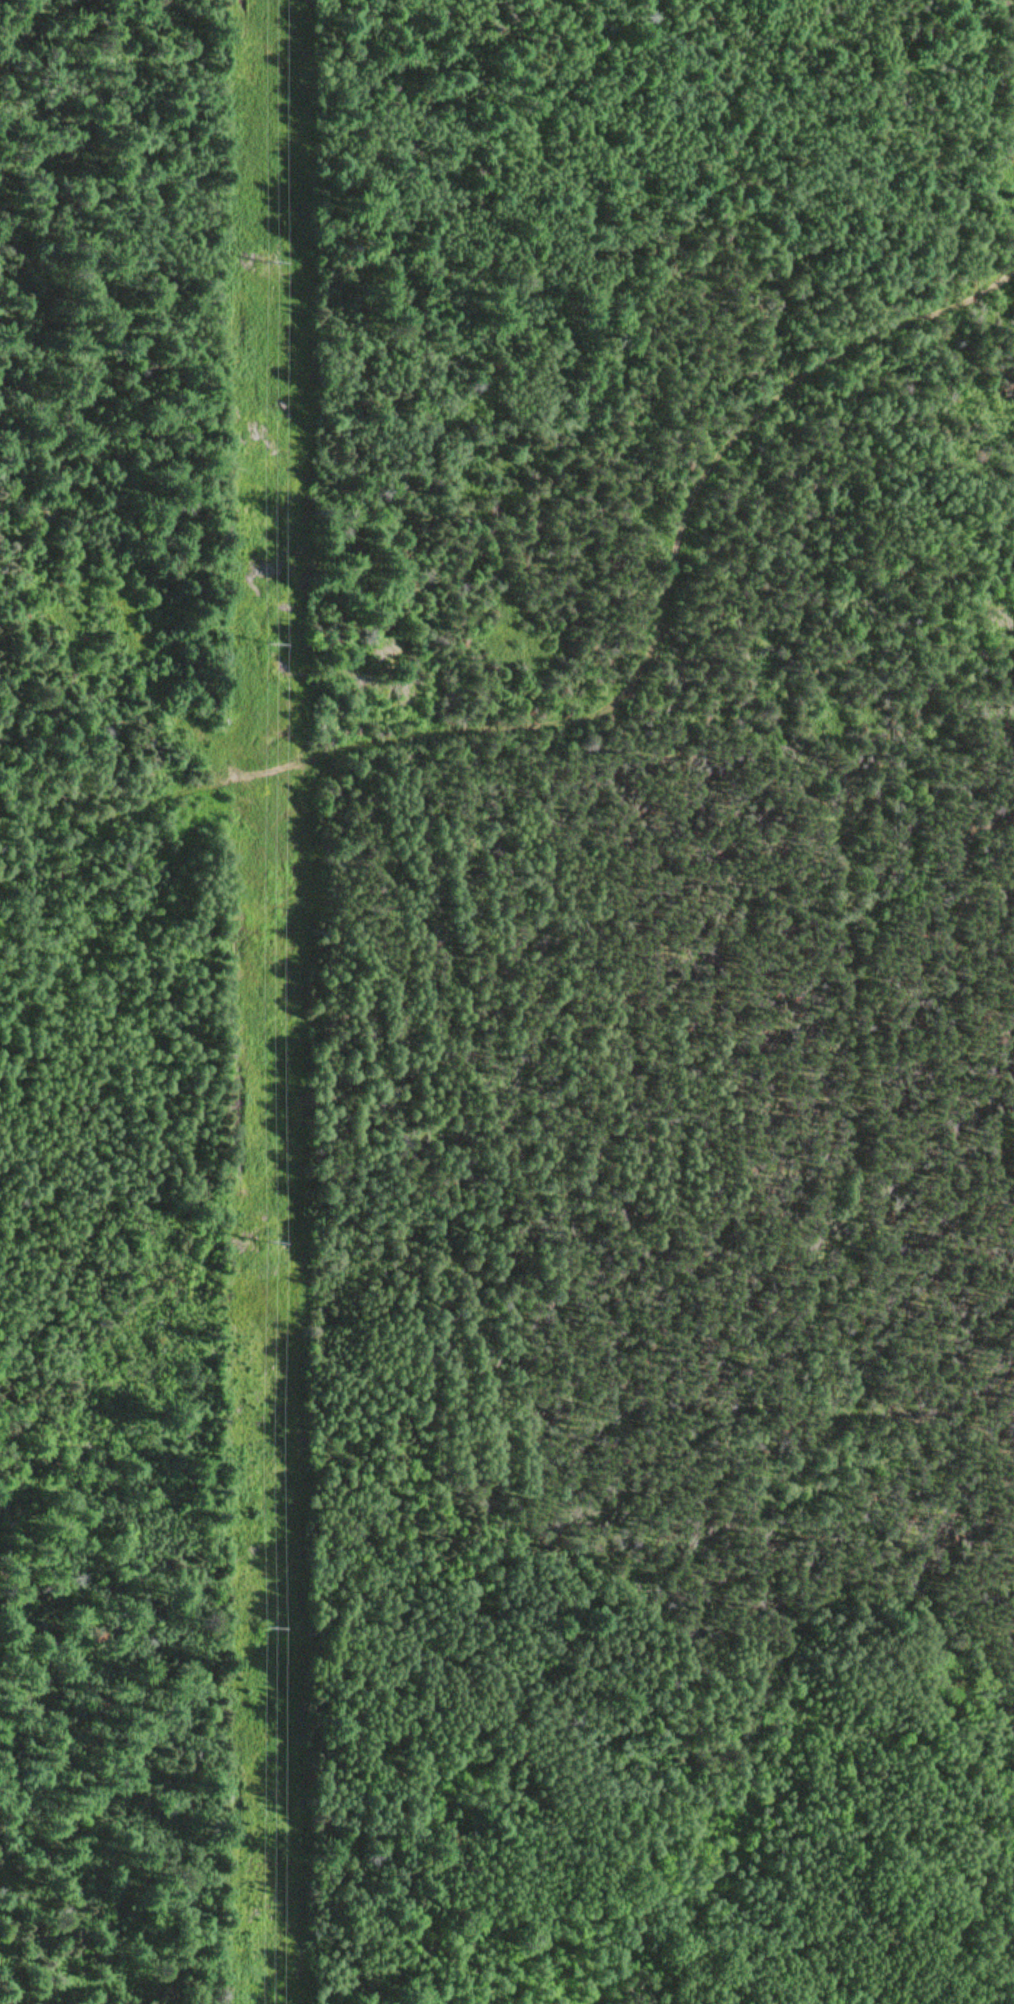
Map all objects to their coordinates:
road: (606, 703)

